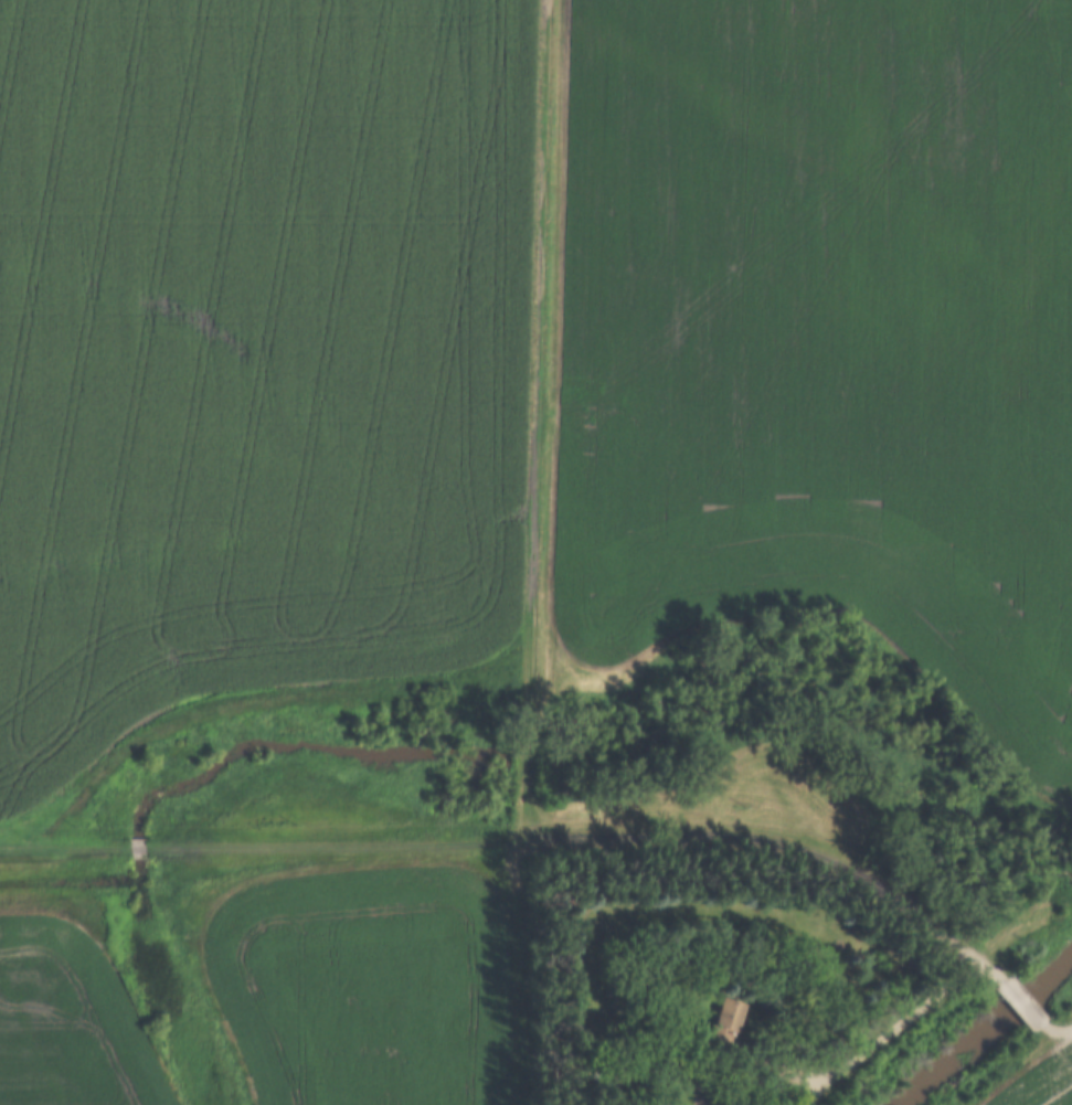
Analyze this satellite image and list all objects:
crop: (828, 331)
crop: (253, 353)
road: (534, 418)
road: (253, 700)
road: (584, 838)
road: (135, 847)
road: (63, 848)
crop: (367, 982)
road: (1020, 1002)
building: (737, 1012)
crop: (66, 1017)
road: (1054, 1030)
road: (884, 1032)
crop: (1046, 1083)

